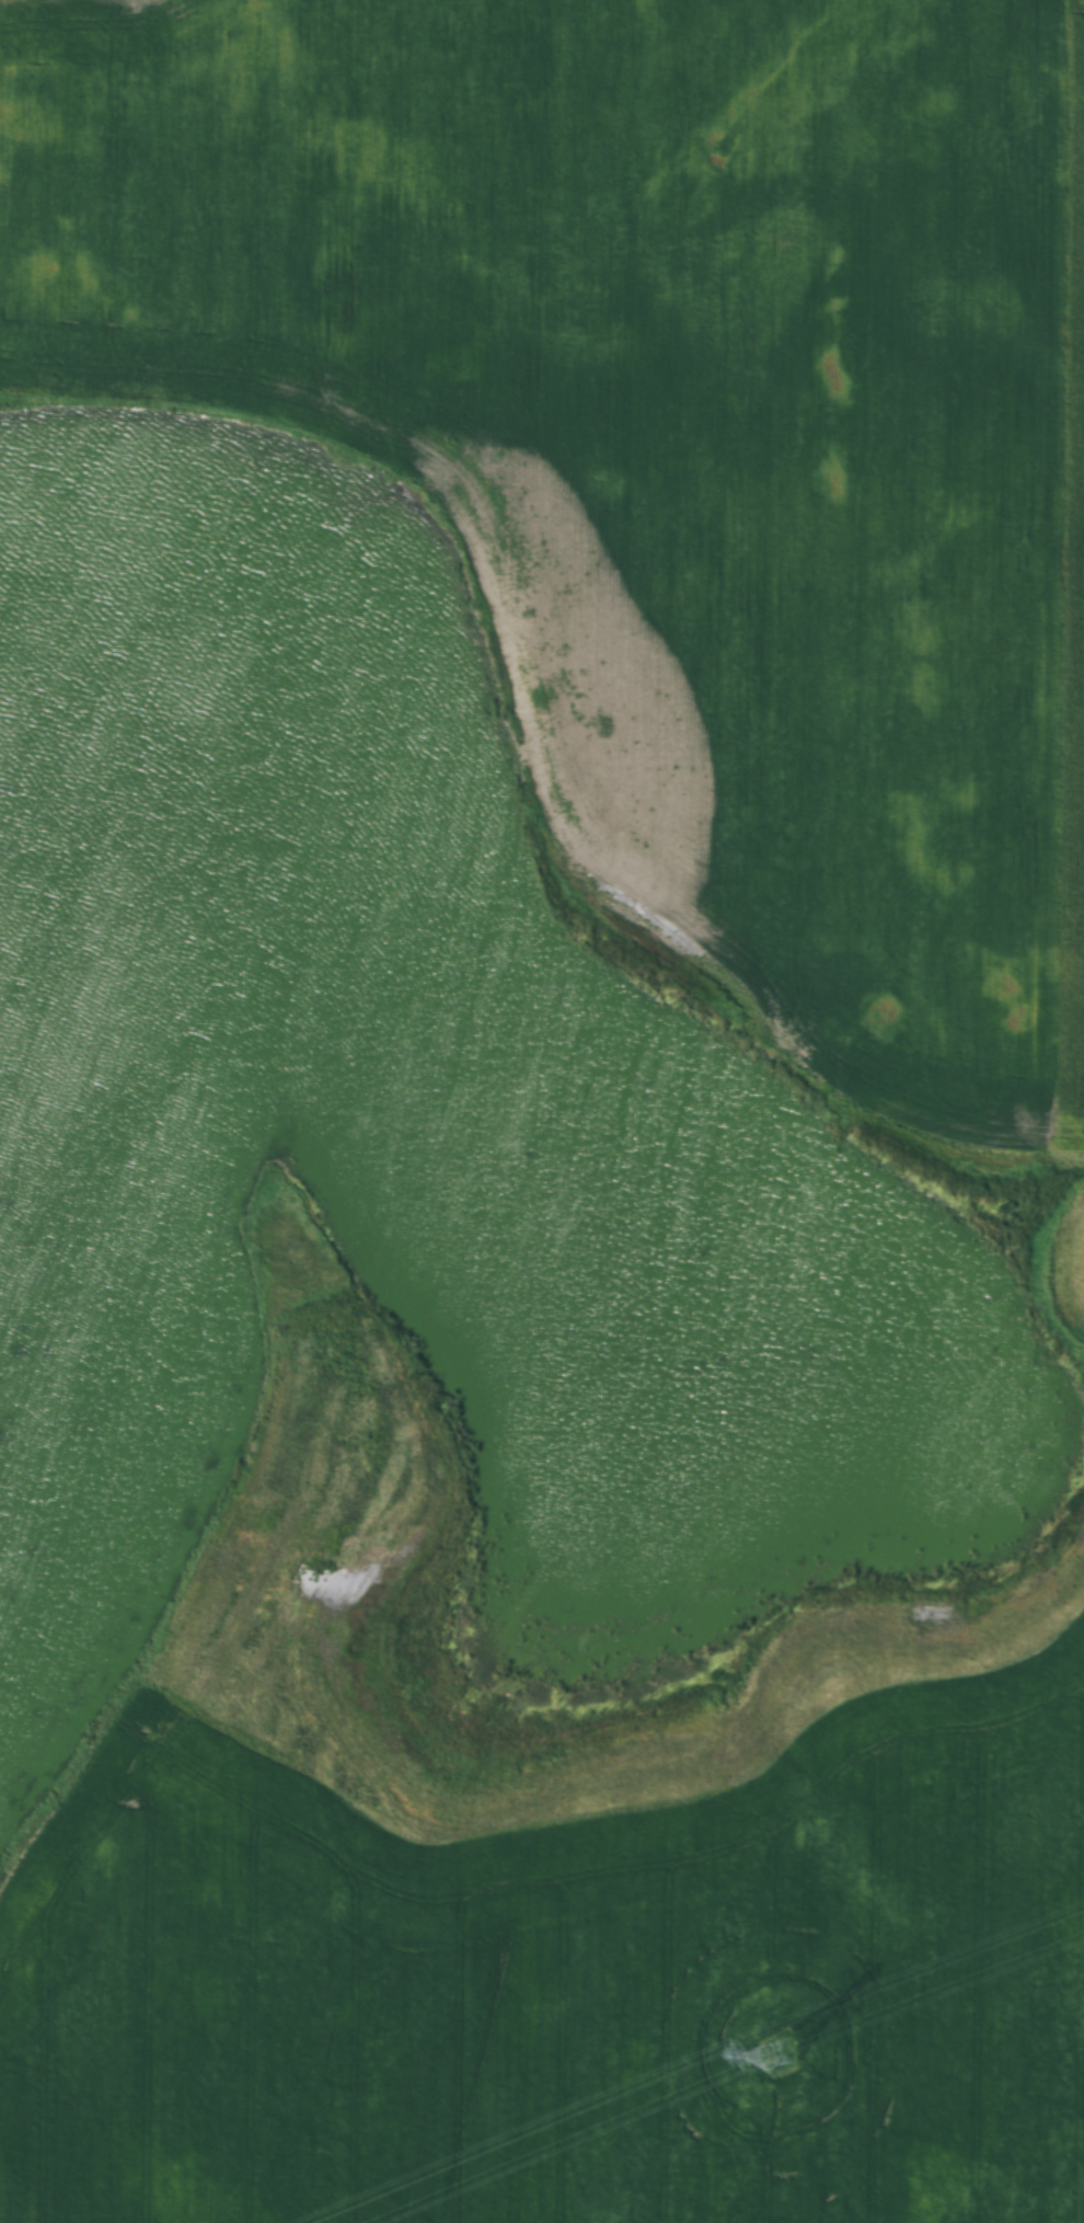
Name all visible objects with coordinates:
power tower: (777, 2058)

